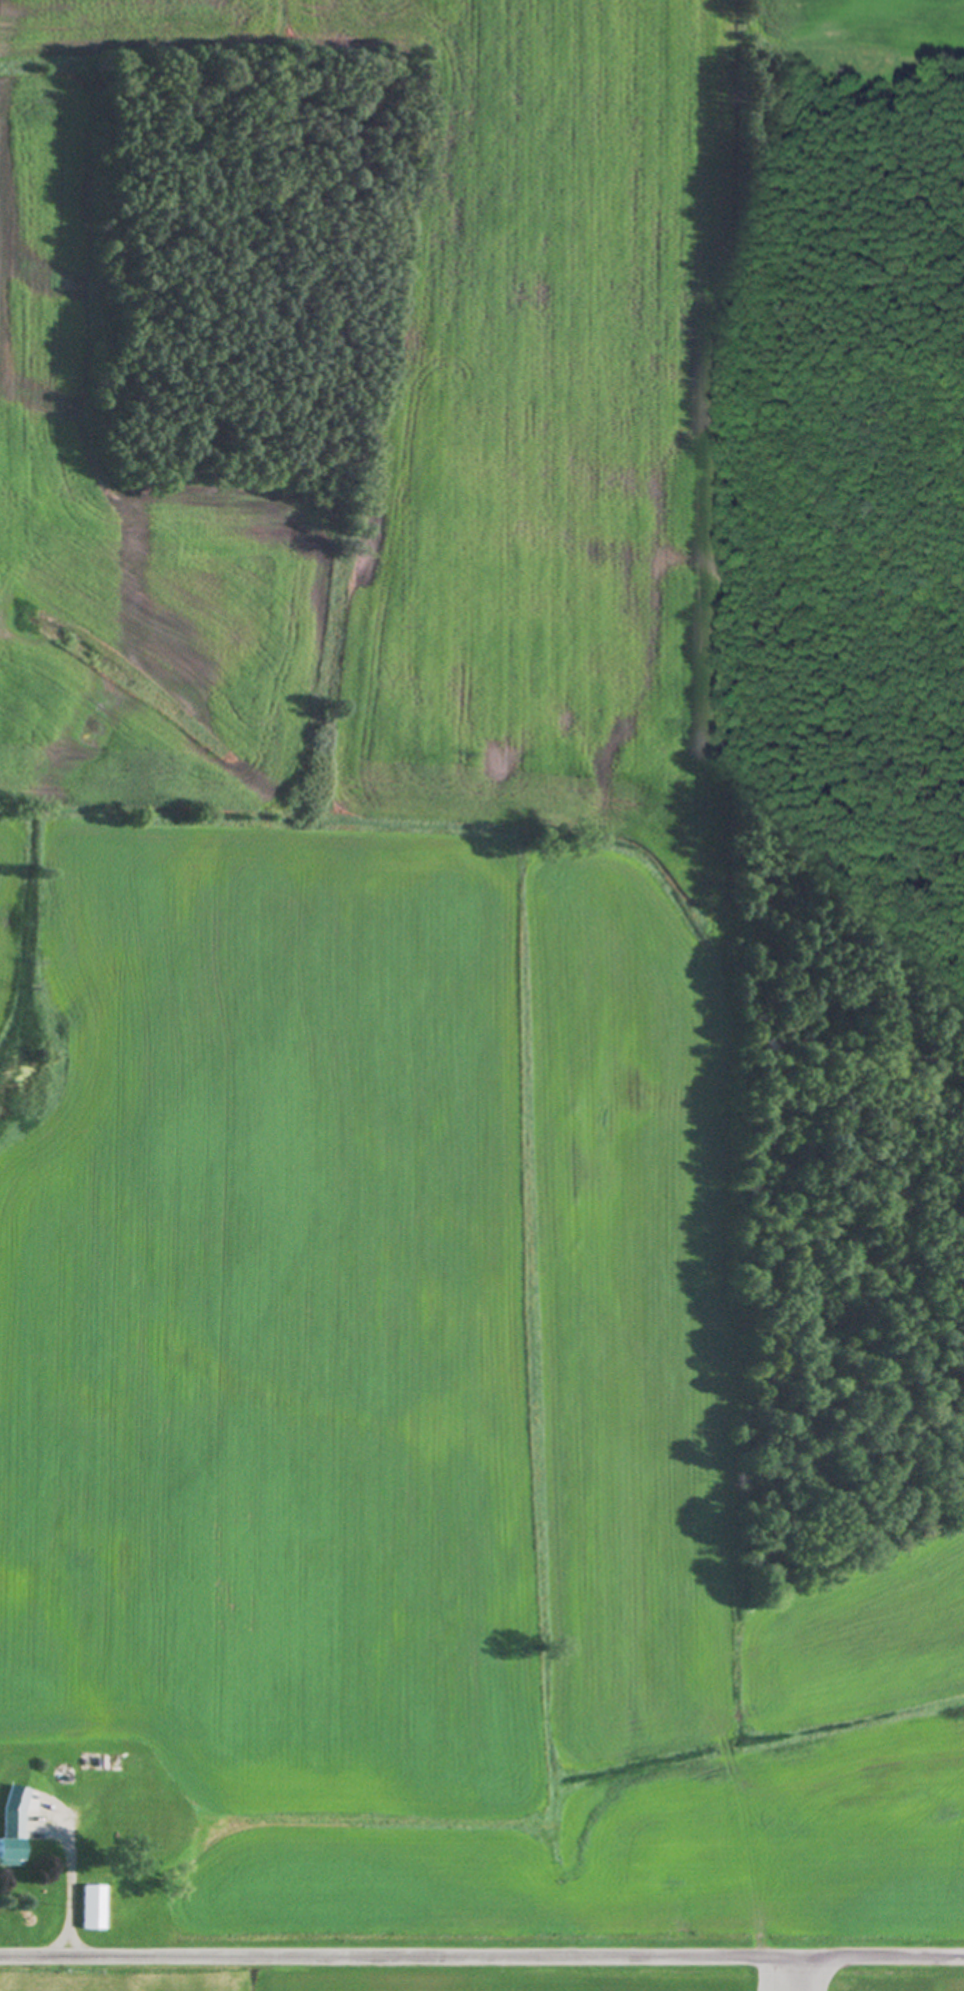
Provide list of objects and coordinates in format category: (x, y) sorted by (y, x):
building: (12, 1837)
road: (64, 1899)
building: (91, 1908)
road: (482, 1959)
road: (759, 1975)
road: (814, 1975)

